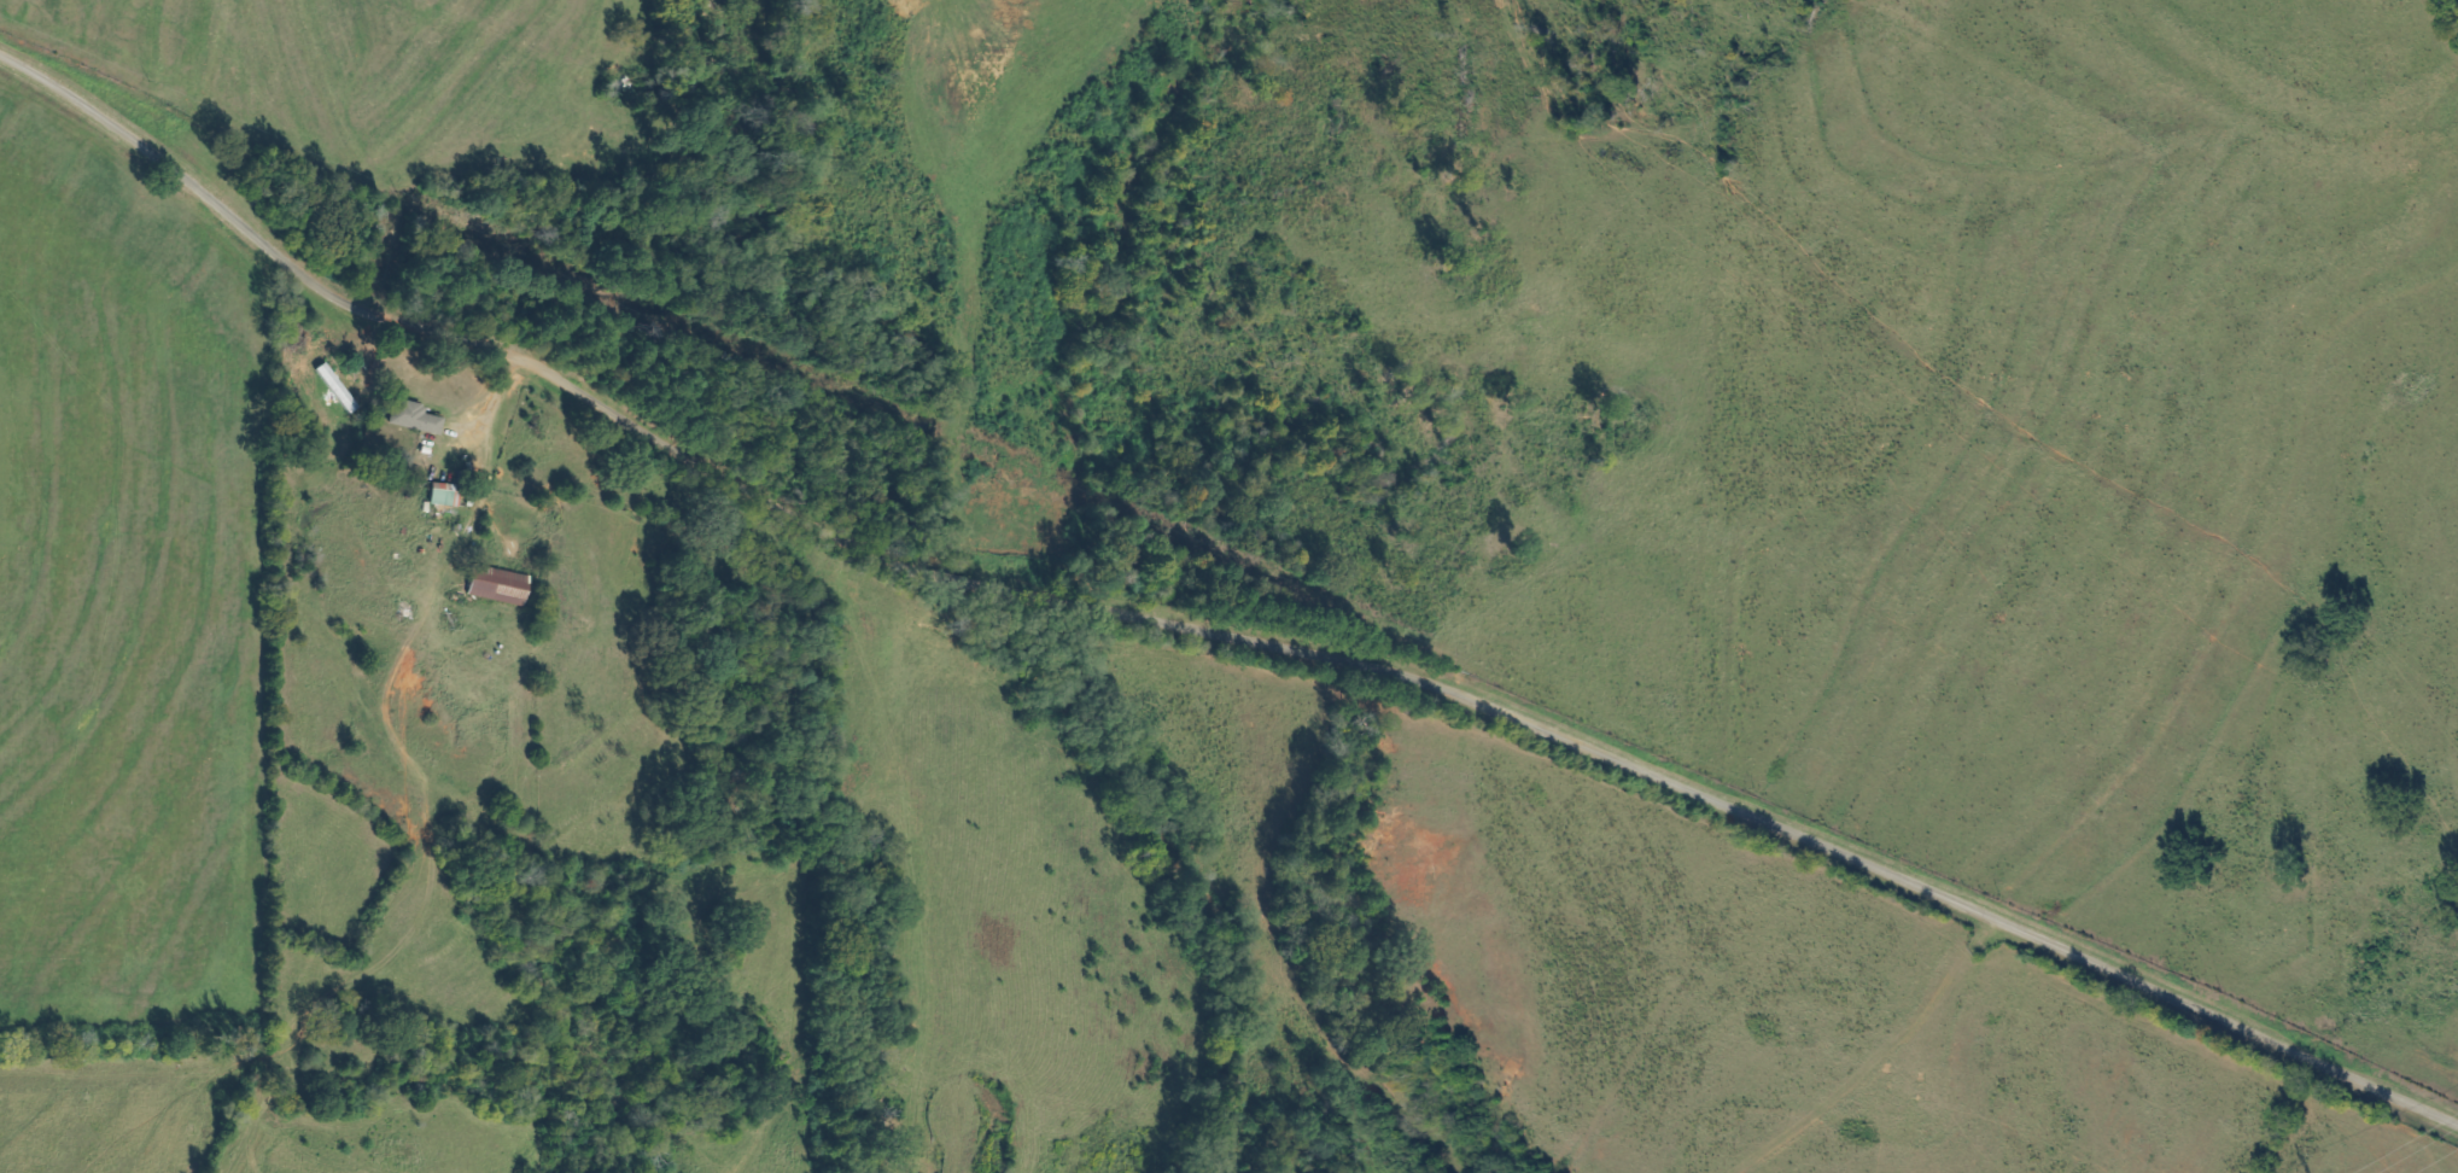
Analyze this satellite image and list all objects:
road: (466, 361)
building: (414, 420)
building: (495, 588)
road: (1720, 821)

